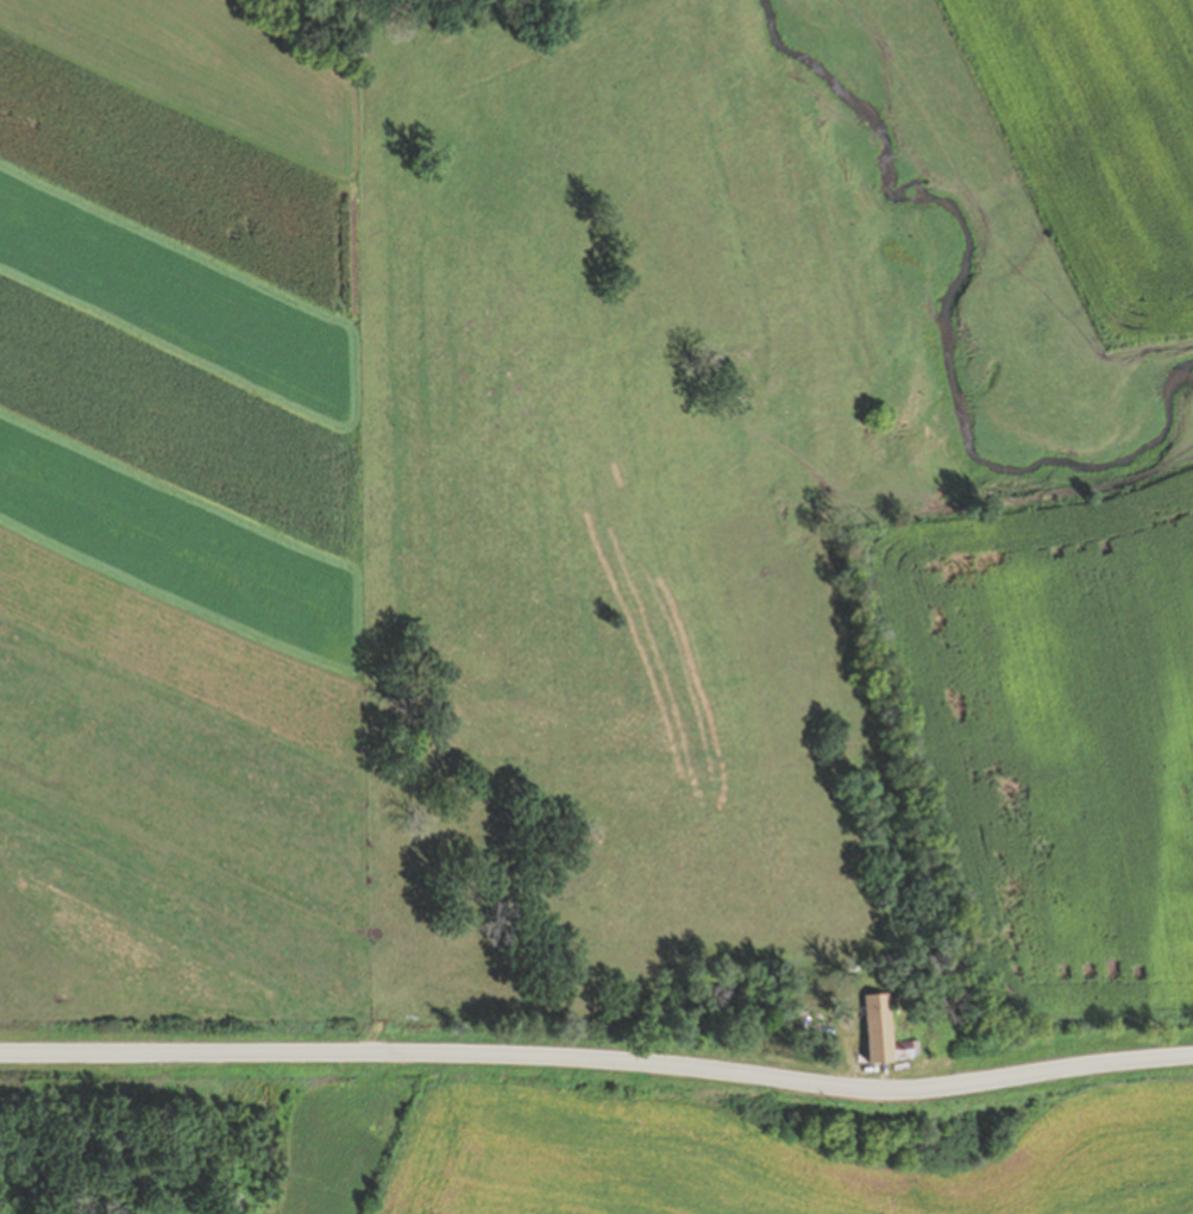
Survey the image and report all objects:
building: (885, 1031)
road: (598, 1058)

